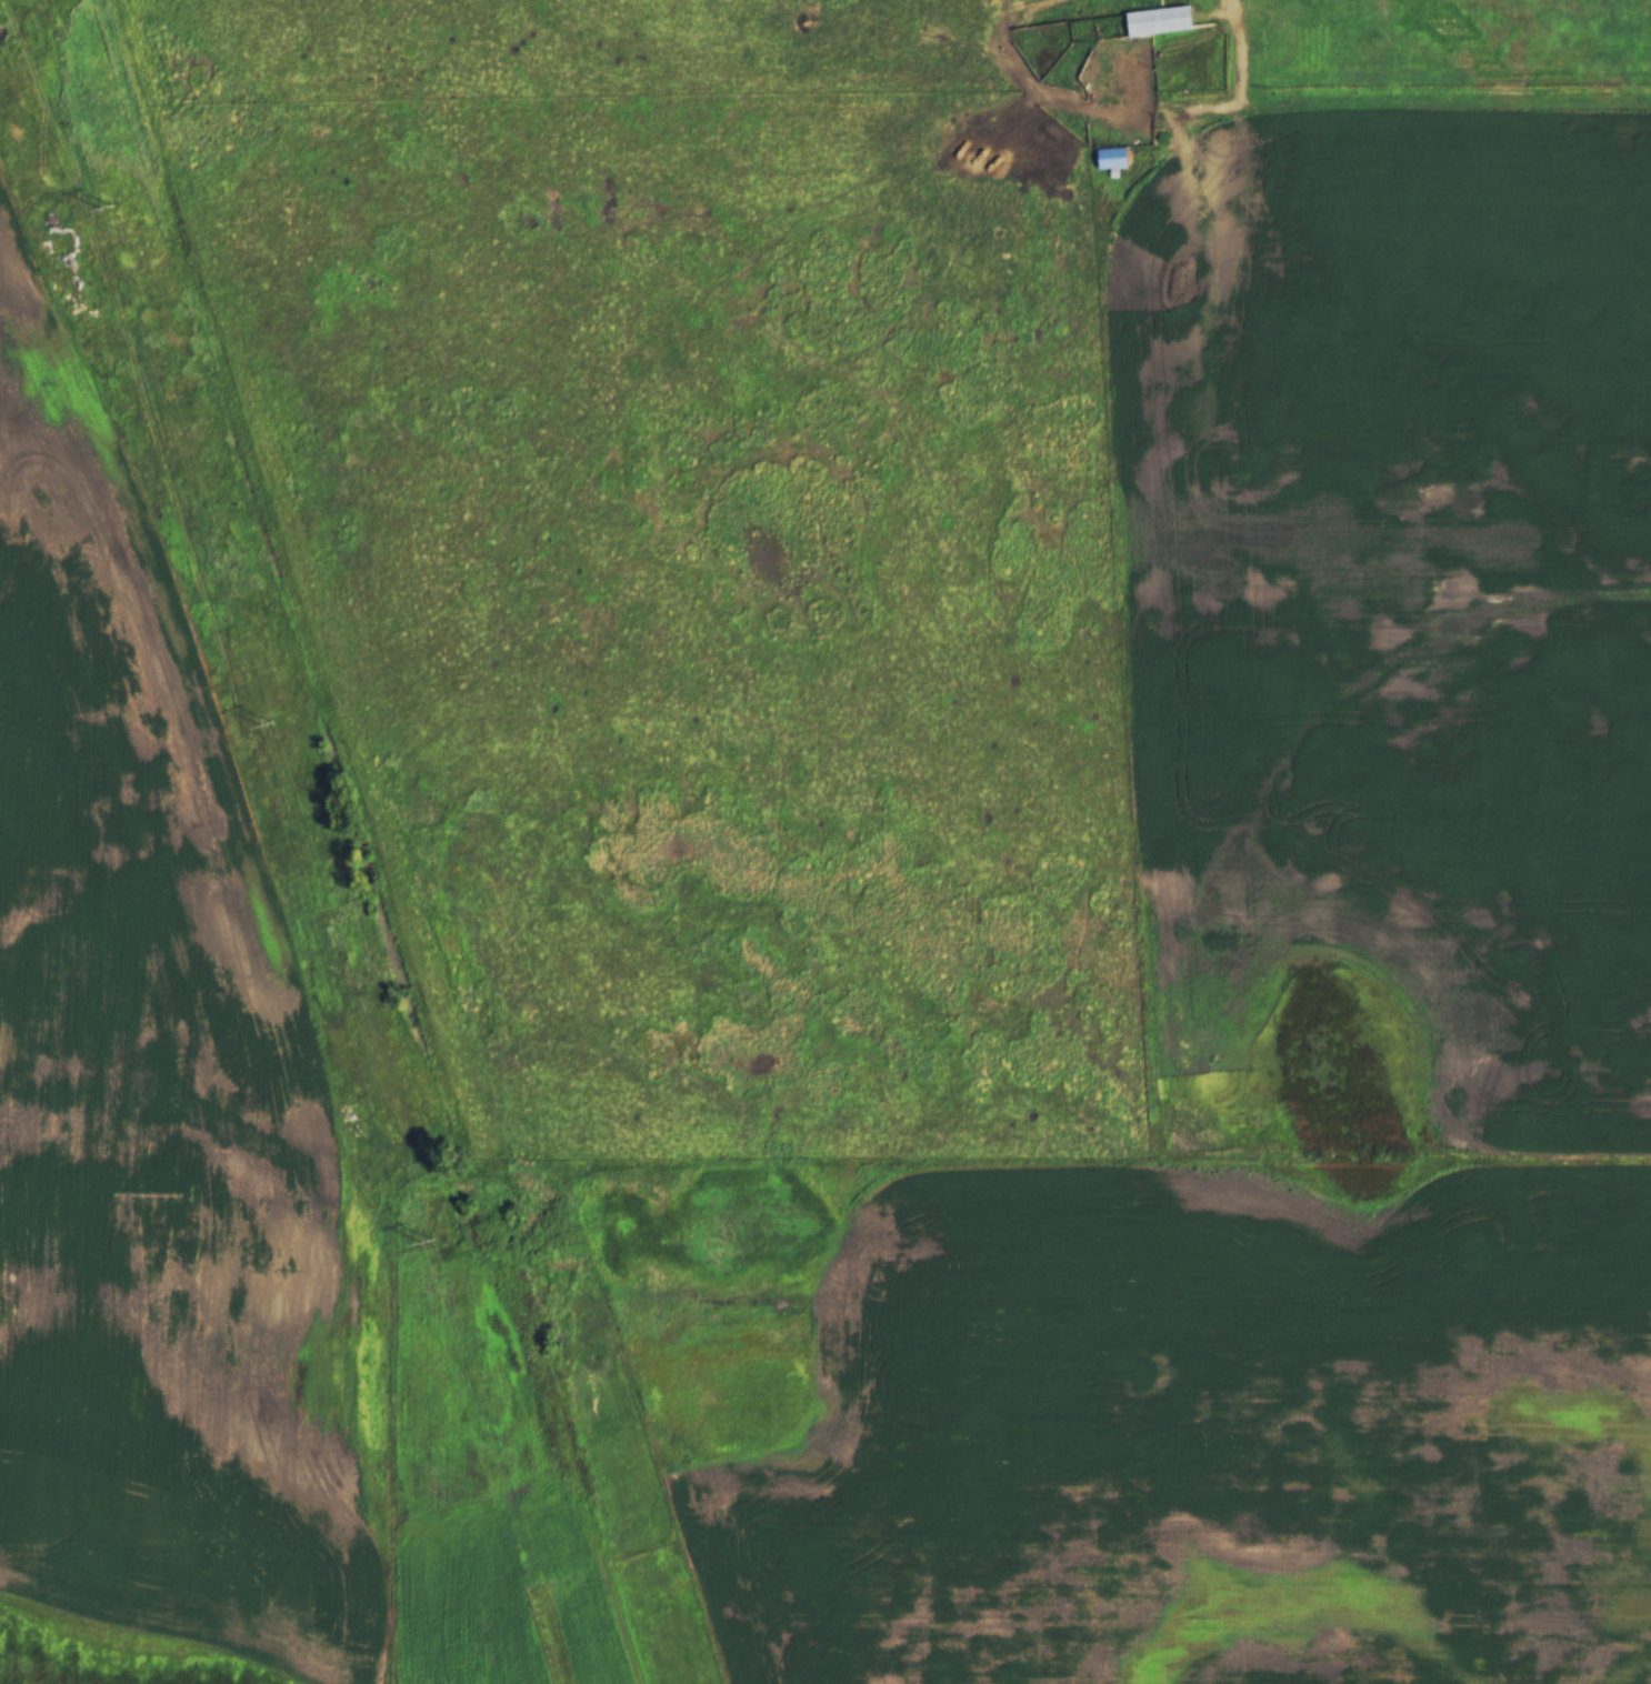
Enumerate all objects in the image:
building: (1132, 23)
road: (1241, 53)
road: (1268, 110)
building: (1112, 159)
power tower: (106, 207)
building: (58, 284)
power tower: (266, 723)
power tower: (426, 1241)

